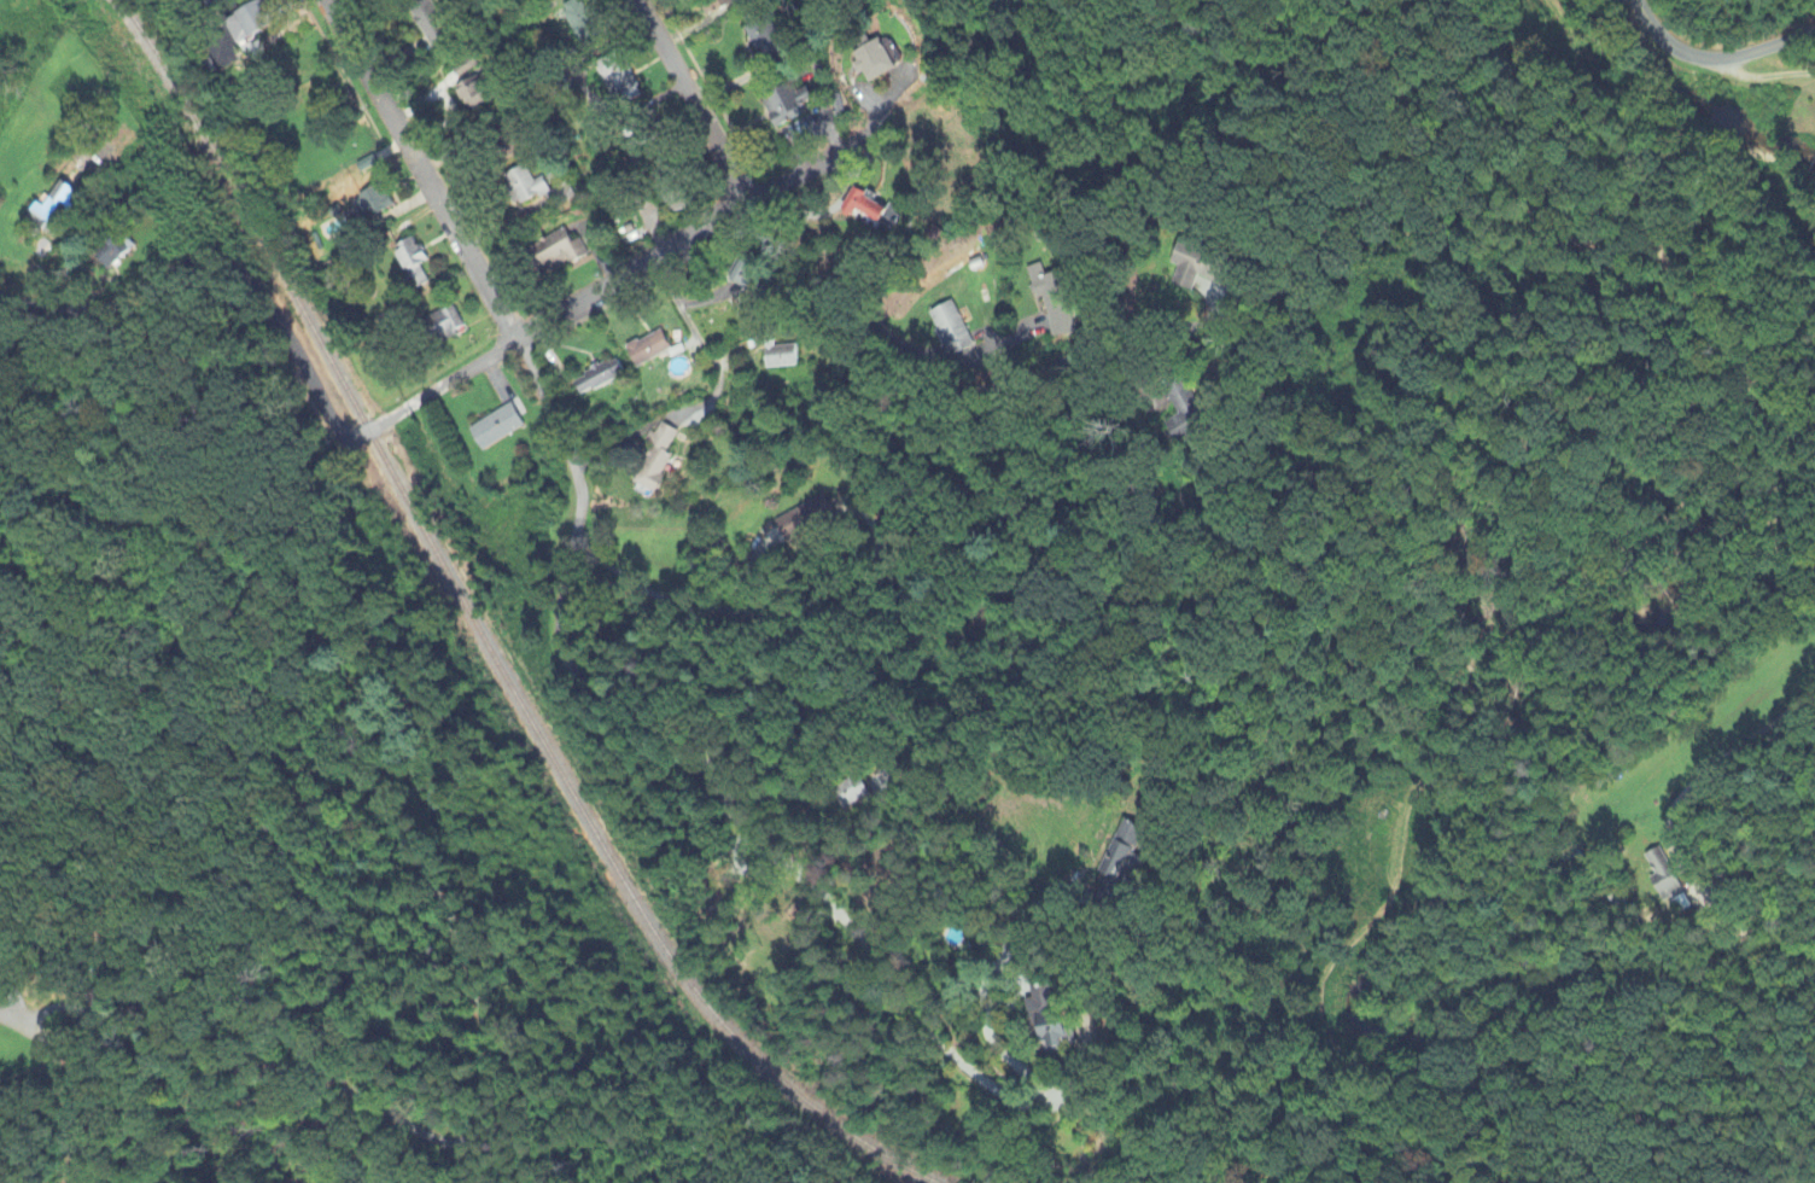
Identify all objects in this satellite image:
road: (1641, 14)
road: (1729, 54)
road: (1758, 75)
road: (694, 103)
road: (642, 268)
road: (249, 287)
road: (688, 320)
road: (866, 328)
road: (681, 604)
road: (558, 612)
railway: (477, 634)
road: (1382, 684)
road: (360, 770)
road: (1704, 776)
road: (927, 798)
road: (910, 903)
road: (246, 1003)

